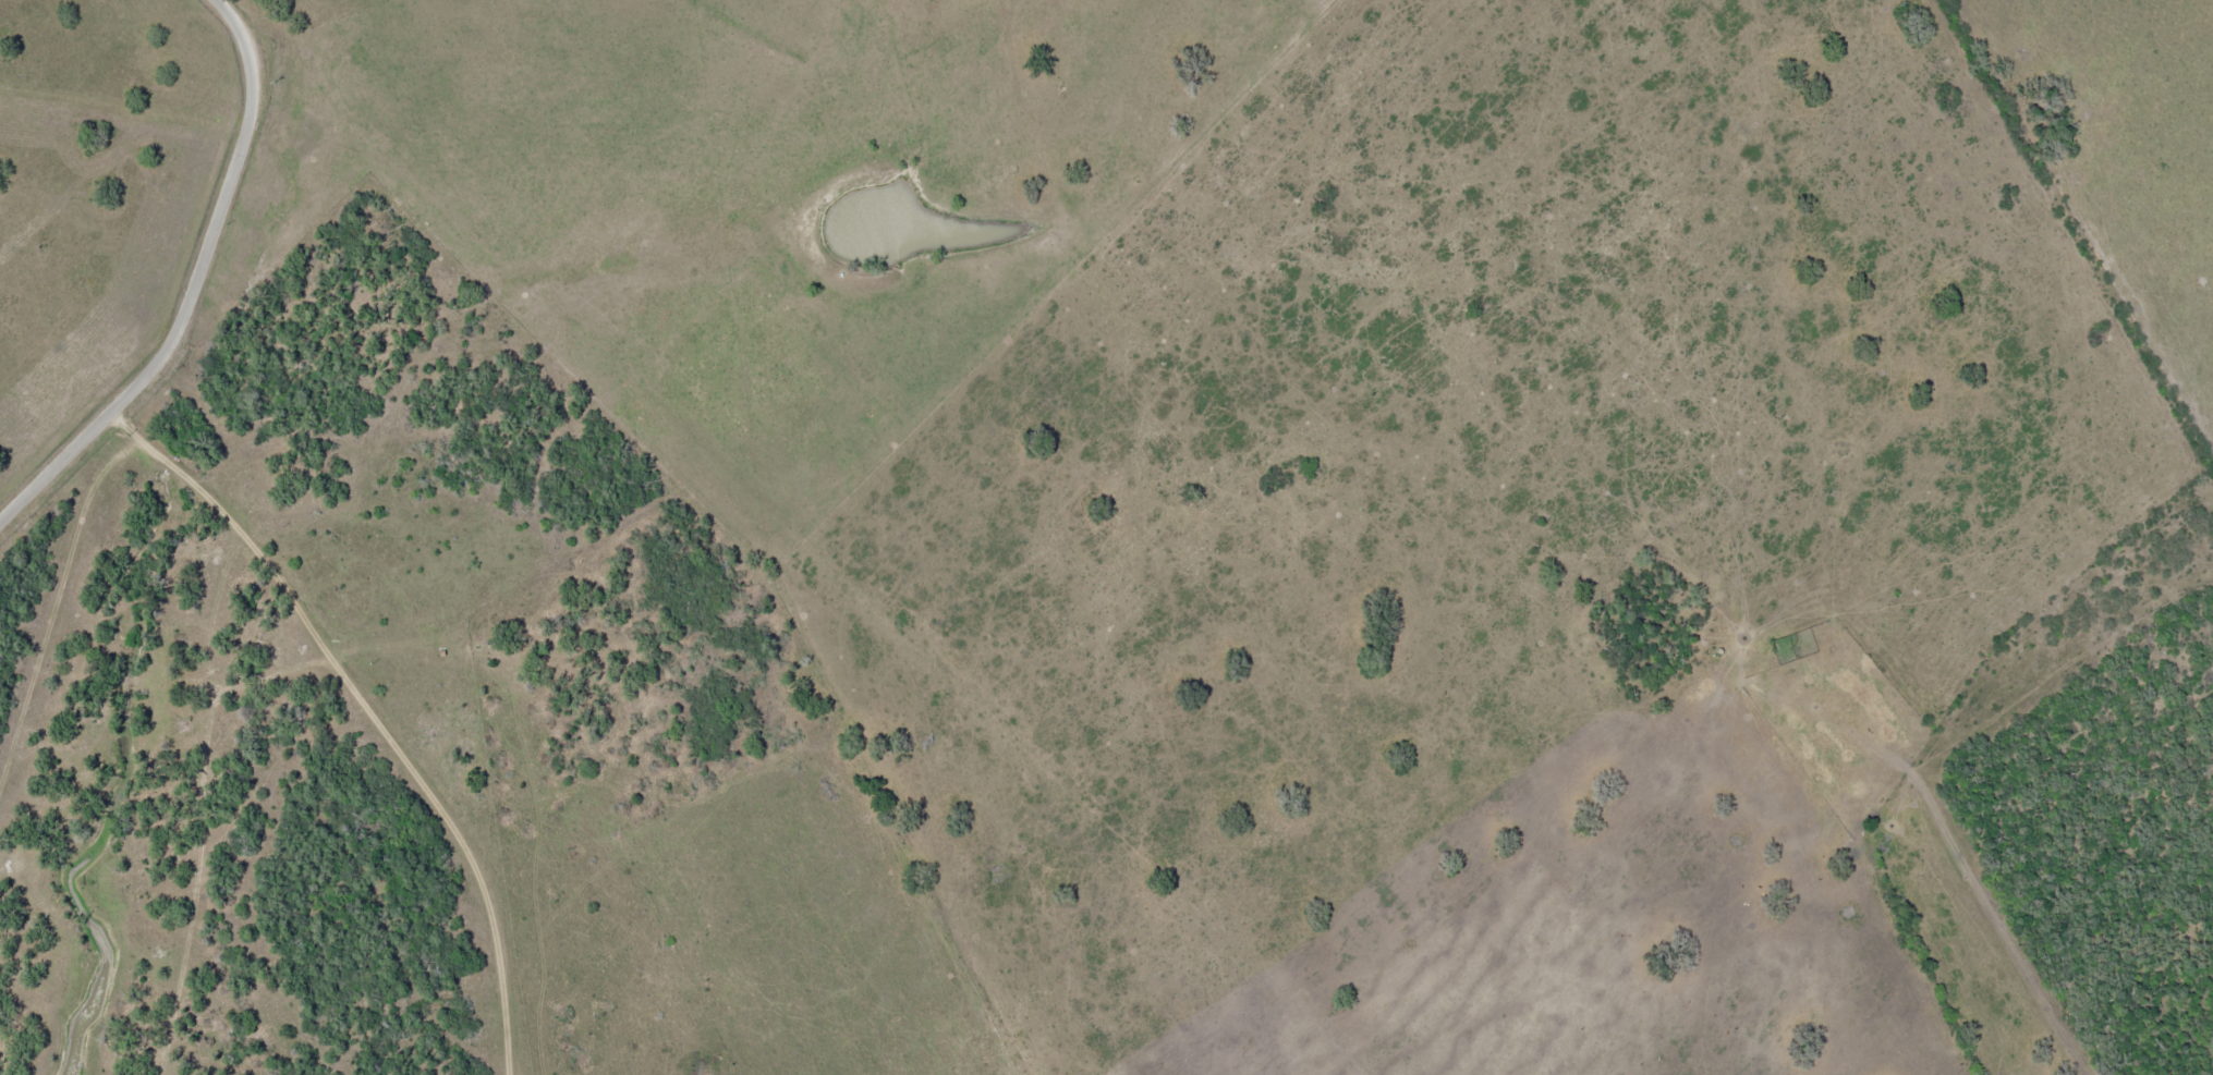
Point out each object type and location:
road: (194, 289)
road: (146, 462)

